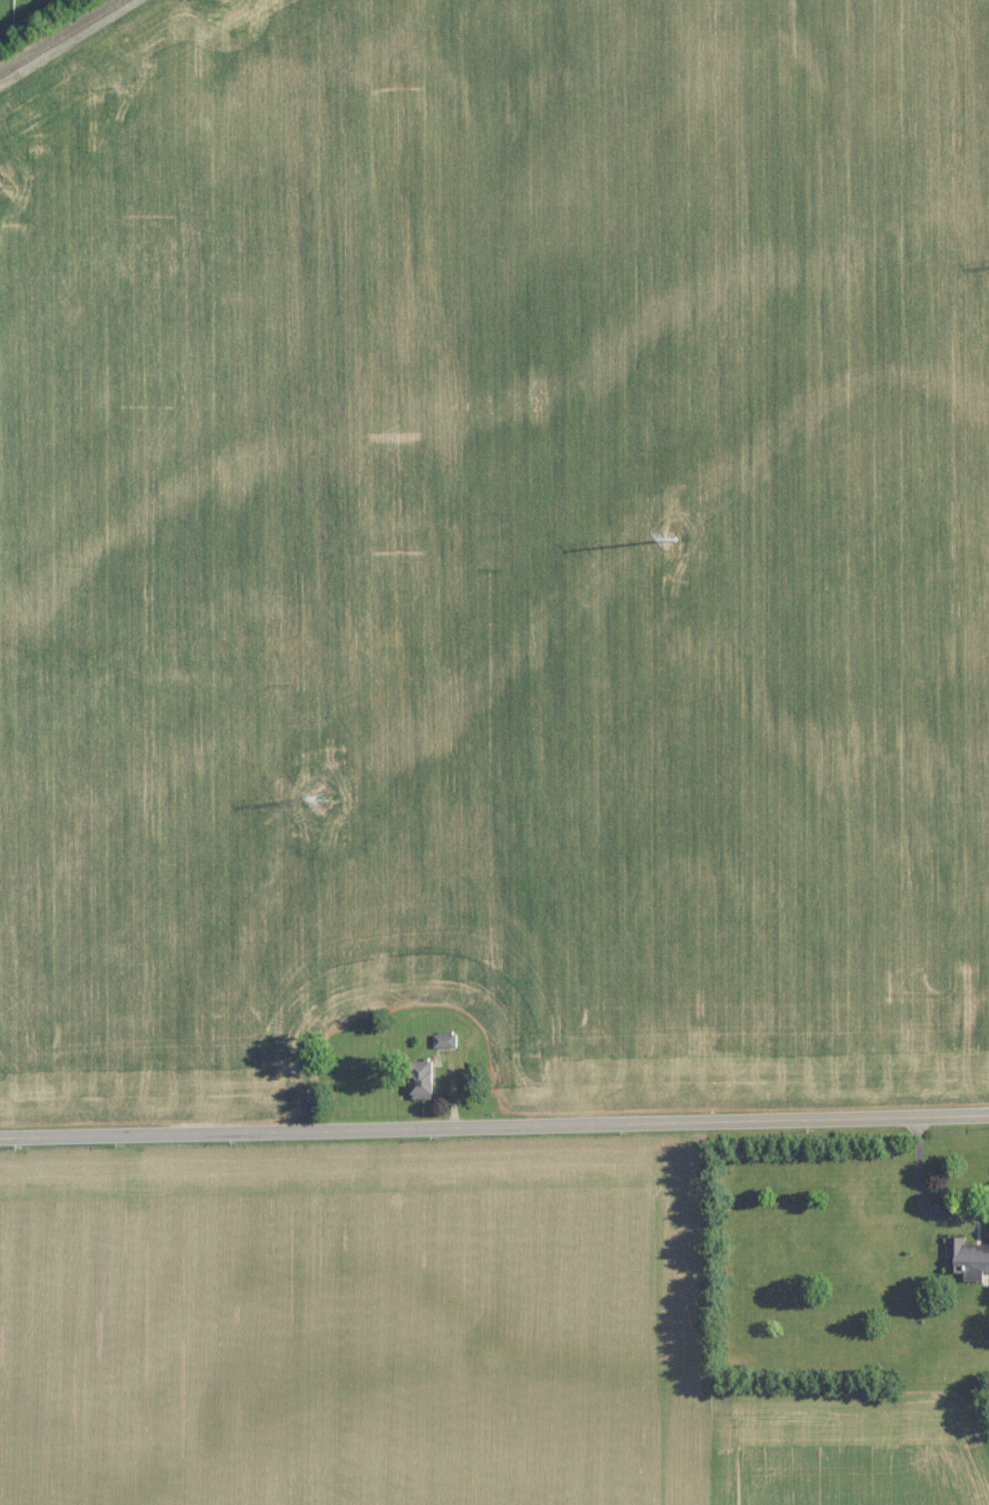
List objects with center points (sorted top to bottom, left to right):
railway: (60, 36)
power tower: (680, 523)
power tower: (318, 783)
building: (444, 1038)
building: (422, 1085)
road: (494, 1125)
road: (921, 1193)
building: (964, 1258)

